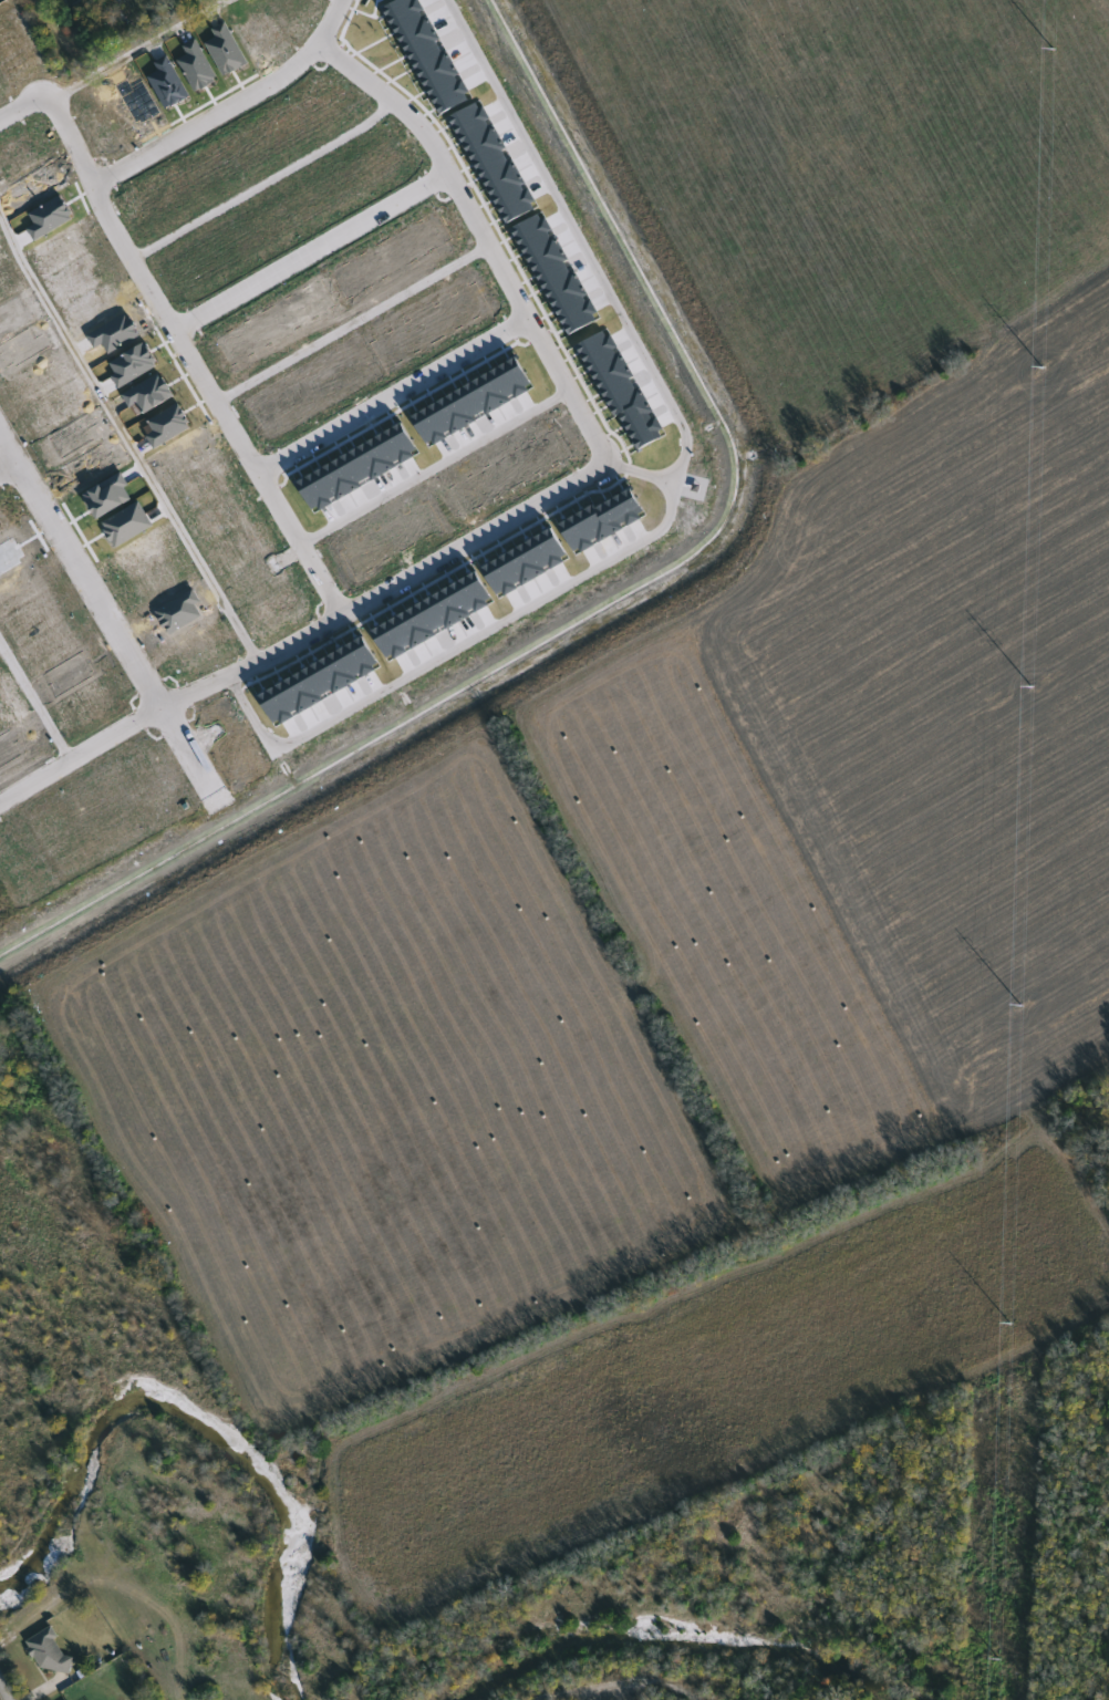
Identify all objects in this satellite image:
building: (55, 0)
building: (72, 2)
road: (330, 20)
building: (112, 39)
road: (138, 49)
power tower: (1051, 50)
road: (22, 103)
road: (209, 116)
road: (265, 182)
road: (484, 232)
road: (580, 237)
road: (312, 250)
road: (352, 322)
road: (189, 354)
power tower: (1041, 369)
road: (393, 395)
road: (126, 437)
road: (434, 466)
road: (8, 467)
road: (641, 471)
road: (474, 538)
road: (106, 612)
road: (452, 649)
road: (255, 662)
power tower: (1030, 686)
road: (35, 699)
road: (81, 753)
power tower: (1019, 1006)
power tower: (1010, 1324)
building: (49, 1651)
power tower: (998, 1660)
road: (4, 1690)

